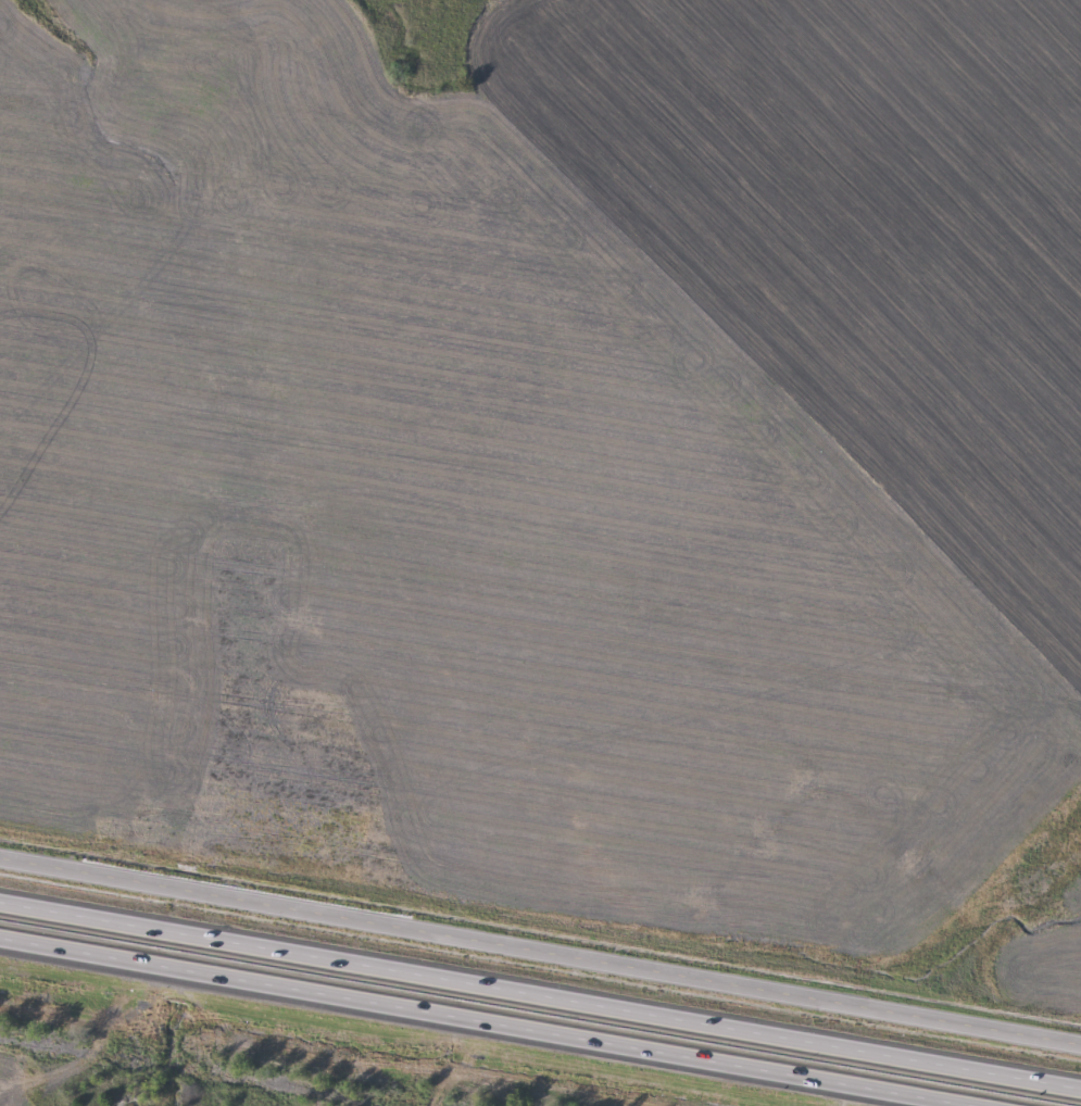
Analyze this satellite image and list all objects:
road: (540, 948)
road: (540, 995)
road: (489, 1021)
road: (934, 1102)

